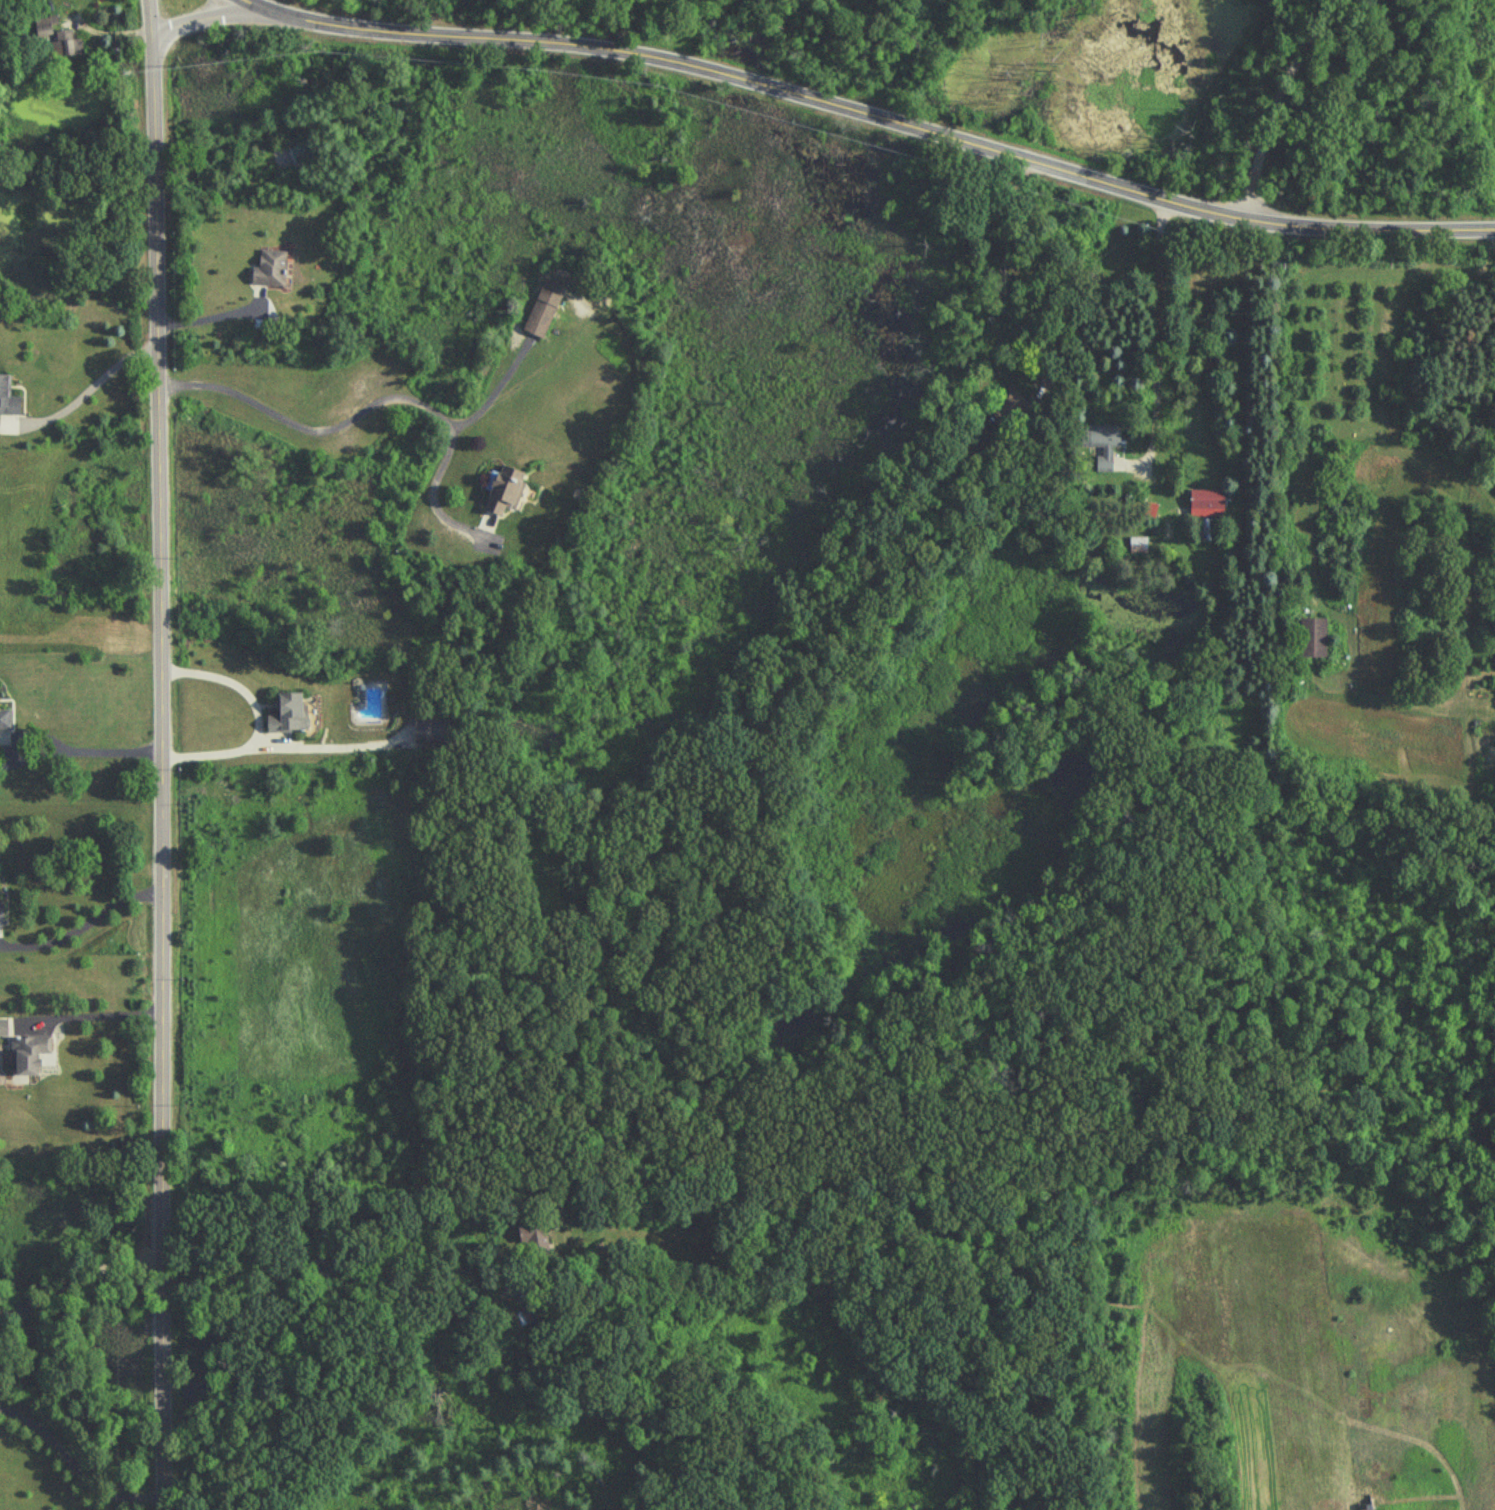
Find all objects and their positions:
road: (198, 17)
road: (107, 27)
building: (42, 29)
building: (66, 45)
park: (1147, 89)
road: (1276, 102)
road: (870, 116)
building: (299, 149)
road: (1001, 260)
building: (268, 270)
building: (543, 309)
road: (206, 314)
road: (1160, 335)
road: (494, 391)
road: (86, 395)
building: (8, 400)
road: (369, 403)
building: (1013, 412)
building: (1100, 445)
building: (503, 492)
building: (1206, 504)
building: (1139, 546)
building: (1313, 639)
road: (257, 712)
building: (287, 717)
building: (4, 721)
building: (429, 734)
road: (326, 740)
road: (55, 746)
road: (158, 754)
building: (1, 911)
road: (81, 919)
road: (85, 1014)
building: (3, 1028)
building: (28, 1053)
building: (528, 1235)
crop: (1234, 1362)
road: (377, 1371)
road: (75, 1464)

